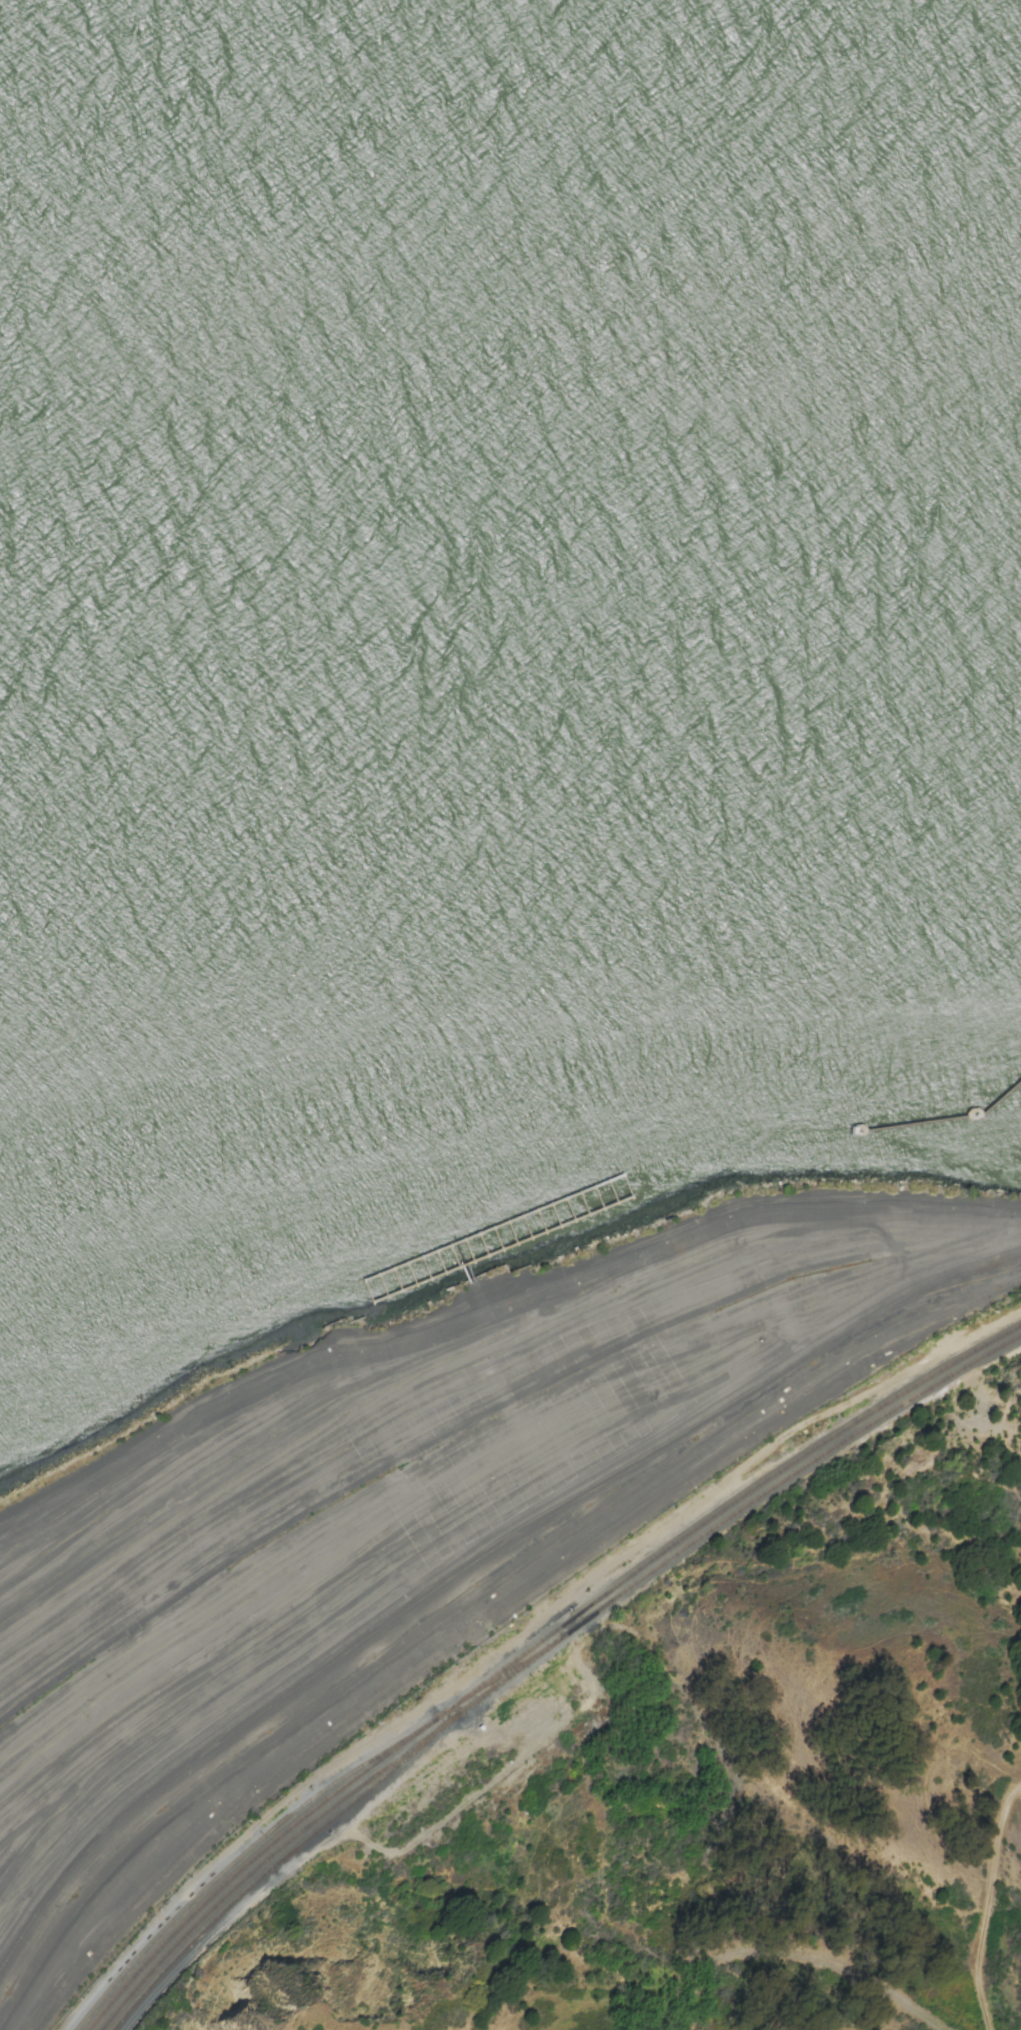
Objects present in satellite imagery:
pier: (498, 1236)
pier: (464, 1273)
railway: (535, 1650)
railway: (540, 1658)
railway: (272, 1833)
railway: (279, 1866)
road: (723, 1894)
road: (992, 1907)

